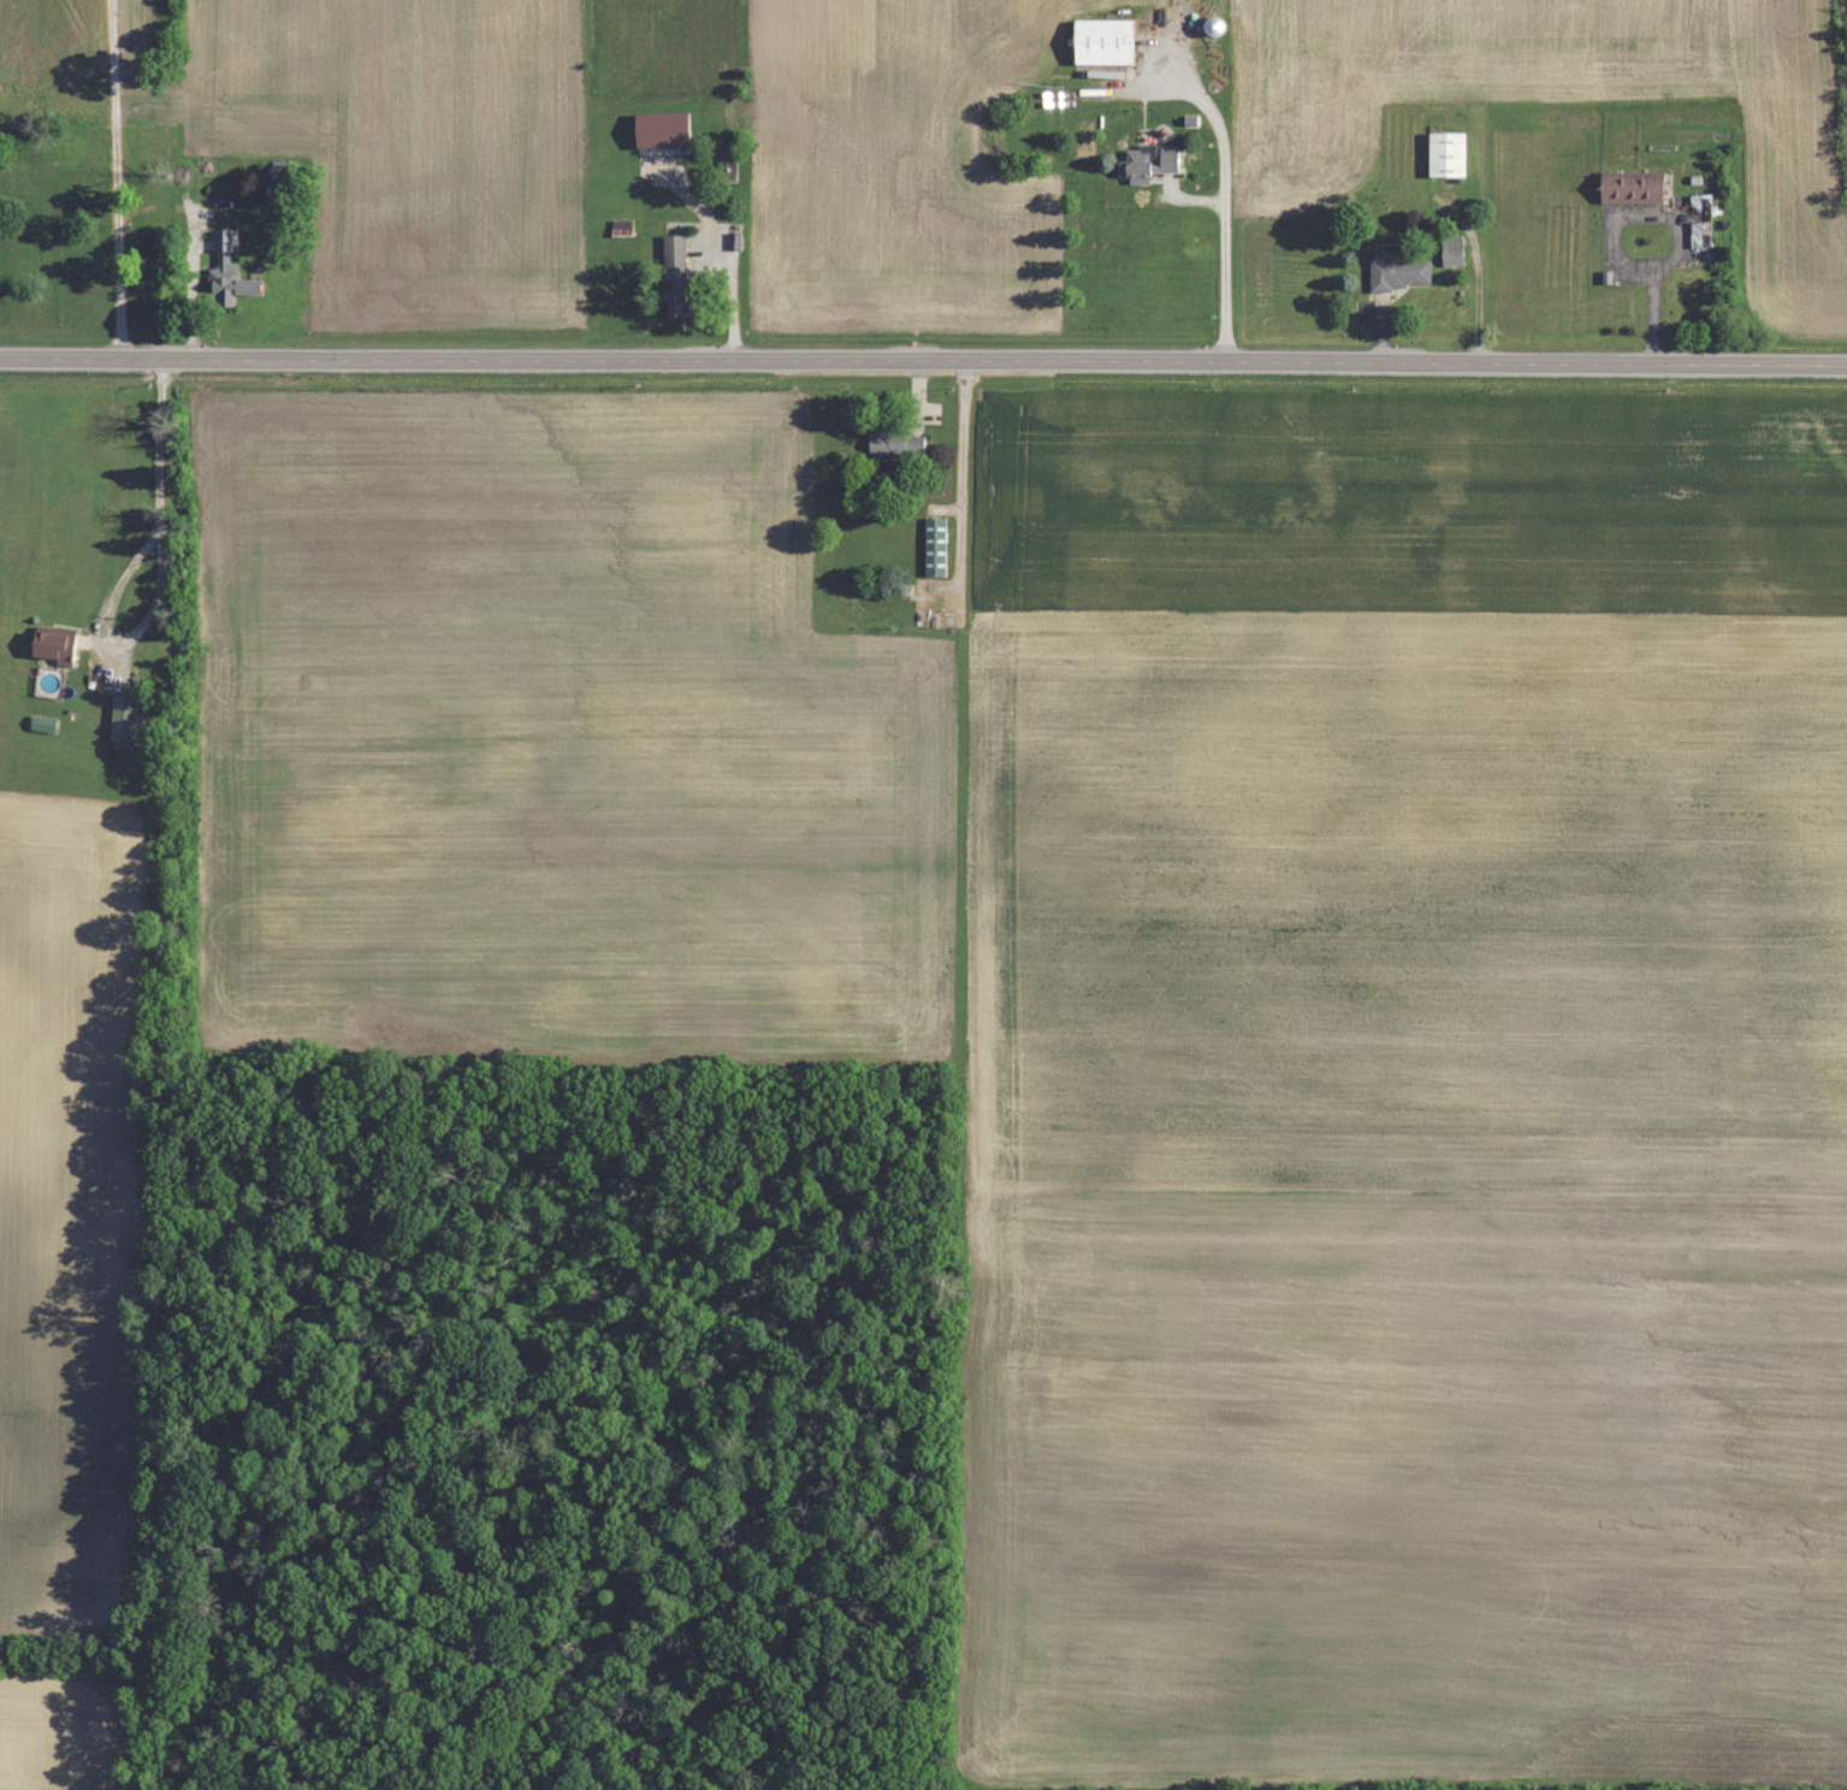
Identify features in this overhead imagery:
building: (1212, 26)
building: (1101, 41)
building: (1445, 154)
building: (1147, 161)
building: (279, 169)
road: (118, 178)
building: (1630, 187)
road: (1221, 209)
building: (1699, 220)
road: (1618, 238)
building: (1450, 250)
building: (226, 271)
building: (1396, 272)
building: (674, 274)
road: (923, 359)
building: (895, 445)
building: (934, 545)
road: (159, 579)
building: (51, 643)
building: (122, 716)
building: (41, 722)

